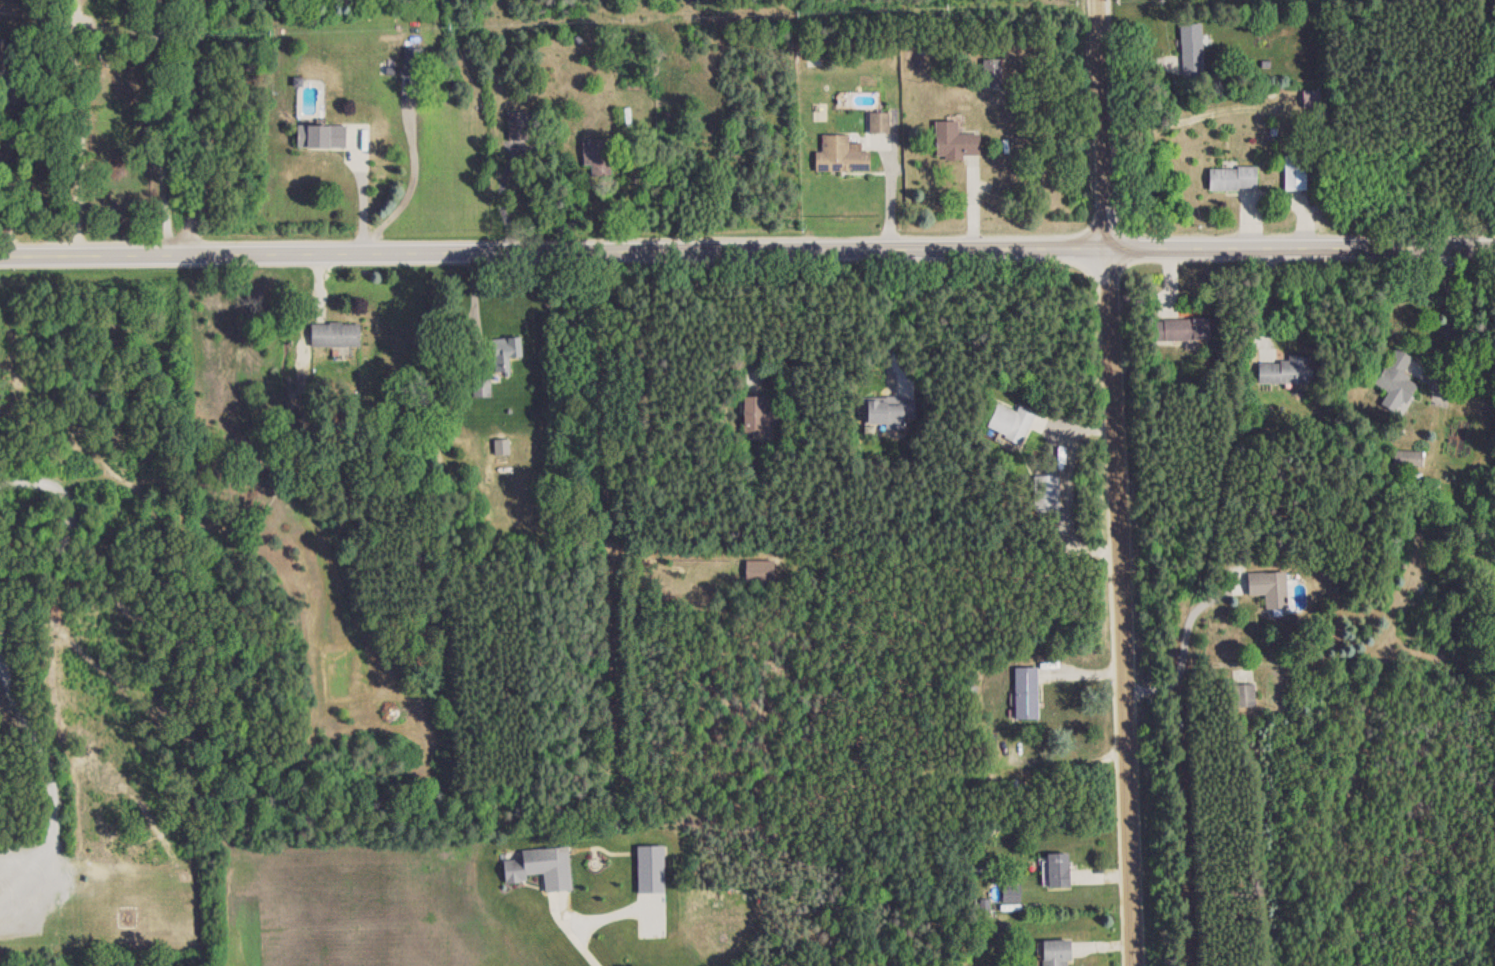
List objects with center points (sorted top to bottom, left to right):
building: (1190, 46)
building: (413, 52)
building: (989, 71)
building: (1312, 98)
road: (1203, 114)
building: (627, 115)
building: (877, 122)
building: (516, 125)
road: (74, 126)
road: (200, 126)
road: (162, 127)
building: (319, 136)
building: (953, 141)
building: (595, 155)
building: (840, 155)
road: (13, 170)
building: (1296, 174)
road: (409, 175)
building: (1231, 178)
road: (360, 194)
road: (747, 249)
road: (479, 308)
road: (888, 310)
road: (741, 312)
road: (1449, 323)
building: (1178, 329)
building: (333, 334)
building: (504, 353)
building: (1283, 371)
building: (1395, 380)
building: (481, 387)
building: (885, 410)
building: (754, 414)
building: (1009, 422)
road: (1063, 422)
building: (501, 446)
building: (1406, 458)
road: (1120, 482)
building: (1047, 493)
building: (759, 569)
building: (1267, 587)
road: (1182, 648)
road: (2, 654)
building: (1025, 693)
building: (1243, 695)
building: (541, 867)
building: (650, 869)
building: (1056, 870)
building: (1011, 893)
road: (584, 949)
building: (1054, 953)

